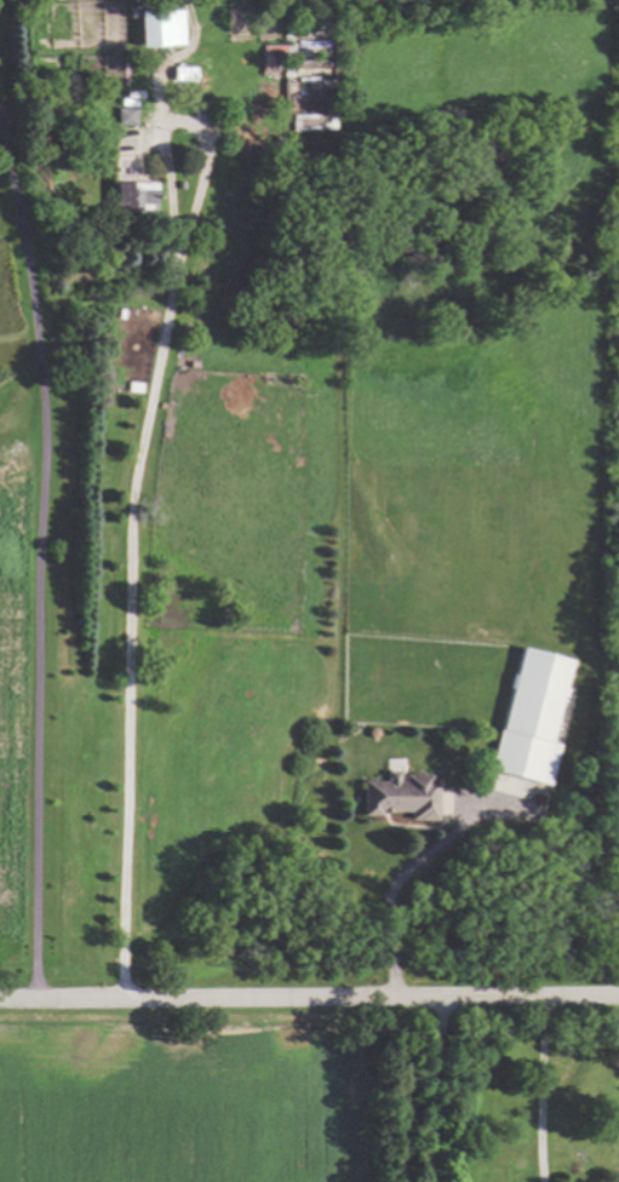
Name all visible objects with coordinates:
building: (157, 28)
building: (125, 115)
building: (132, 197)
road: (137, 464)
road: (40, 557)
building: (531, 718)
building: (400, 797)
road: (391, 908)
road: (309, 998)
road: (539, 1089)
road: (428, 1091)

